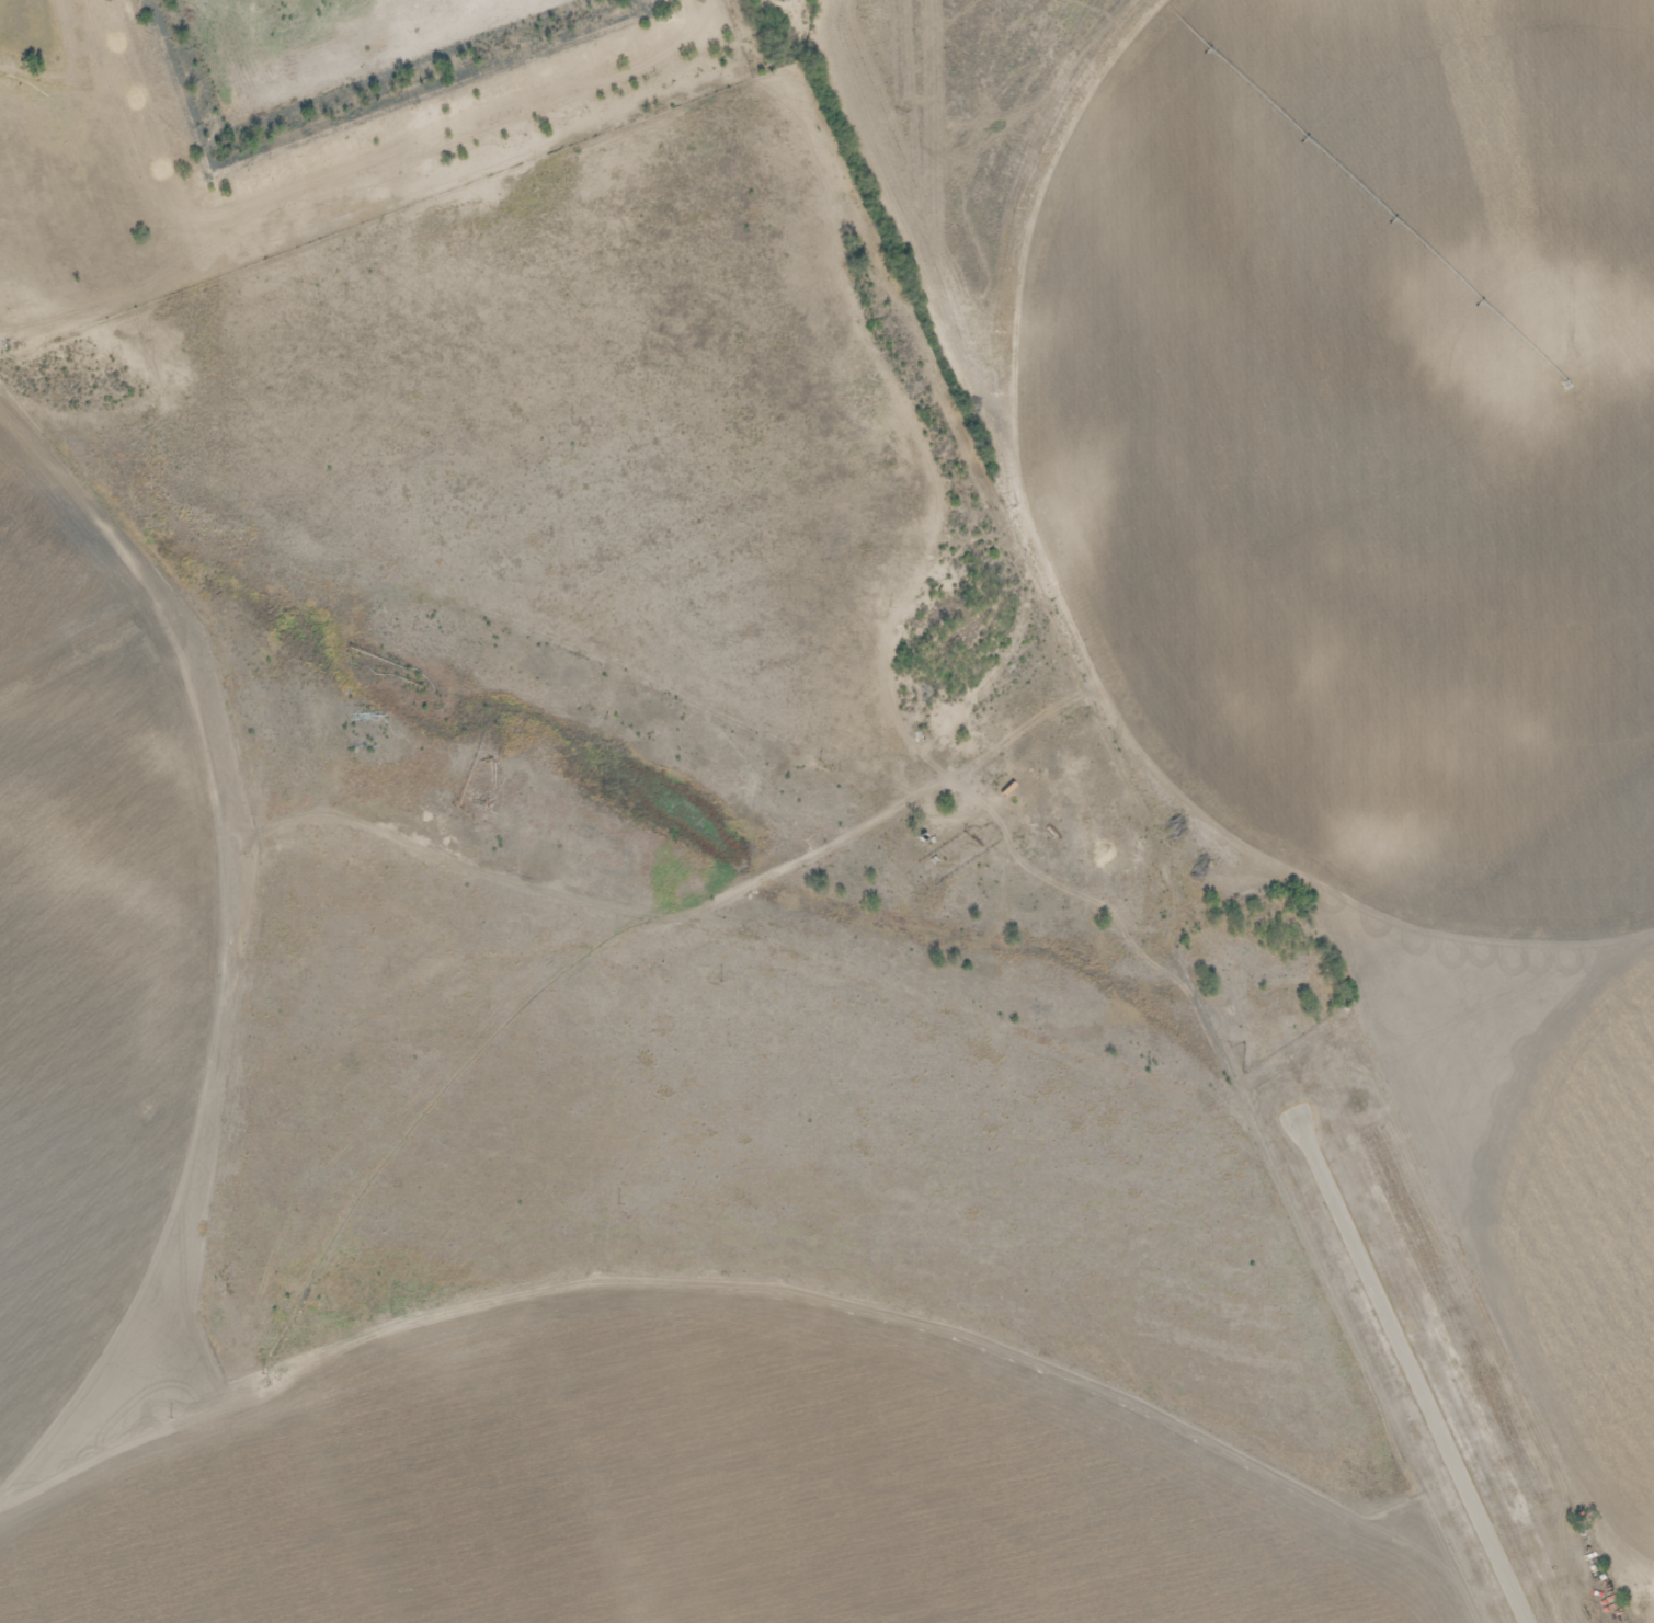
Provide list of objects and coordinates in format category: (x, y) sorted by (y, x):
airport: (1427, 1327)
airport runway: (1414, 1365)

